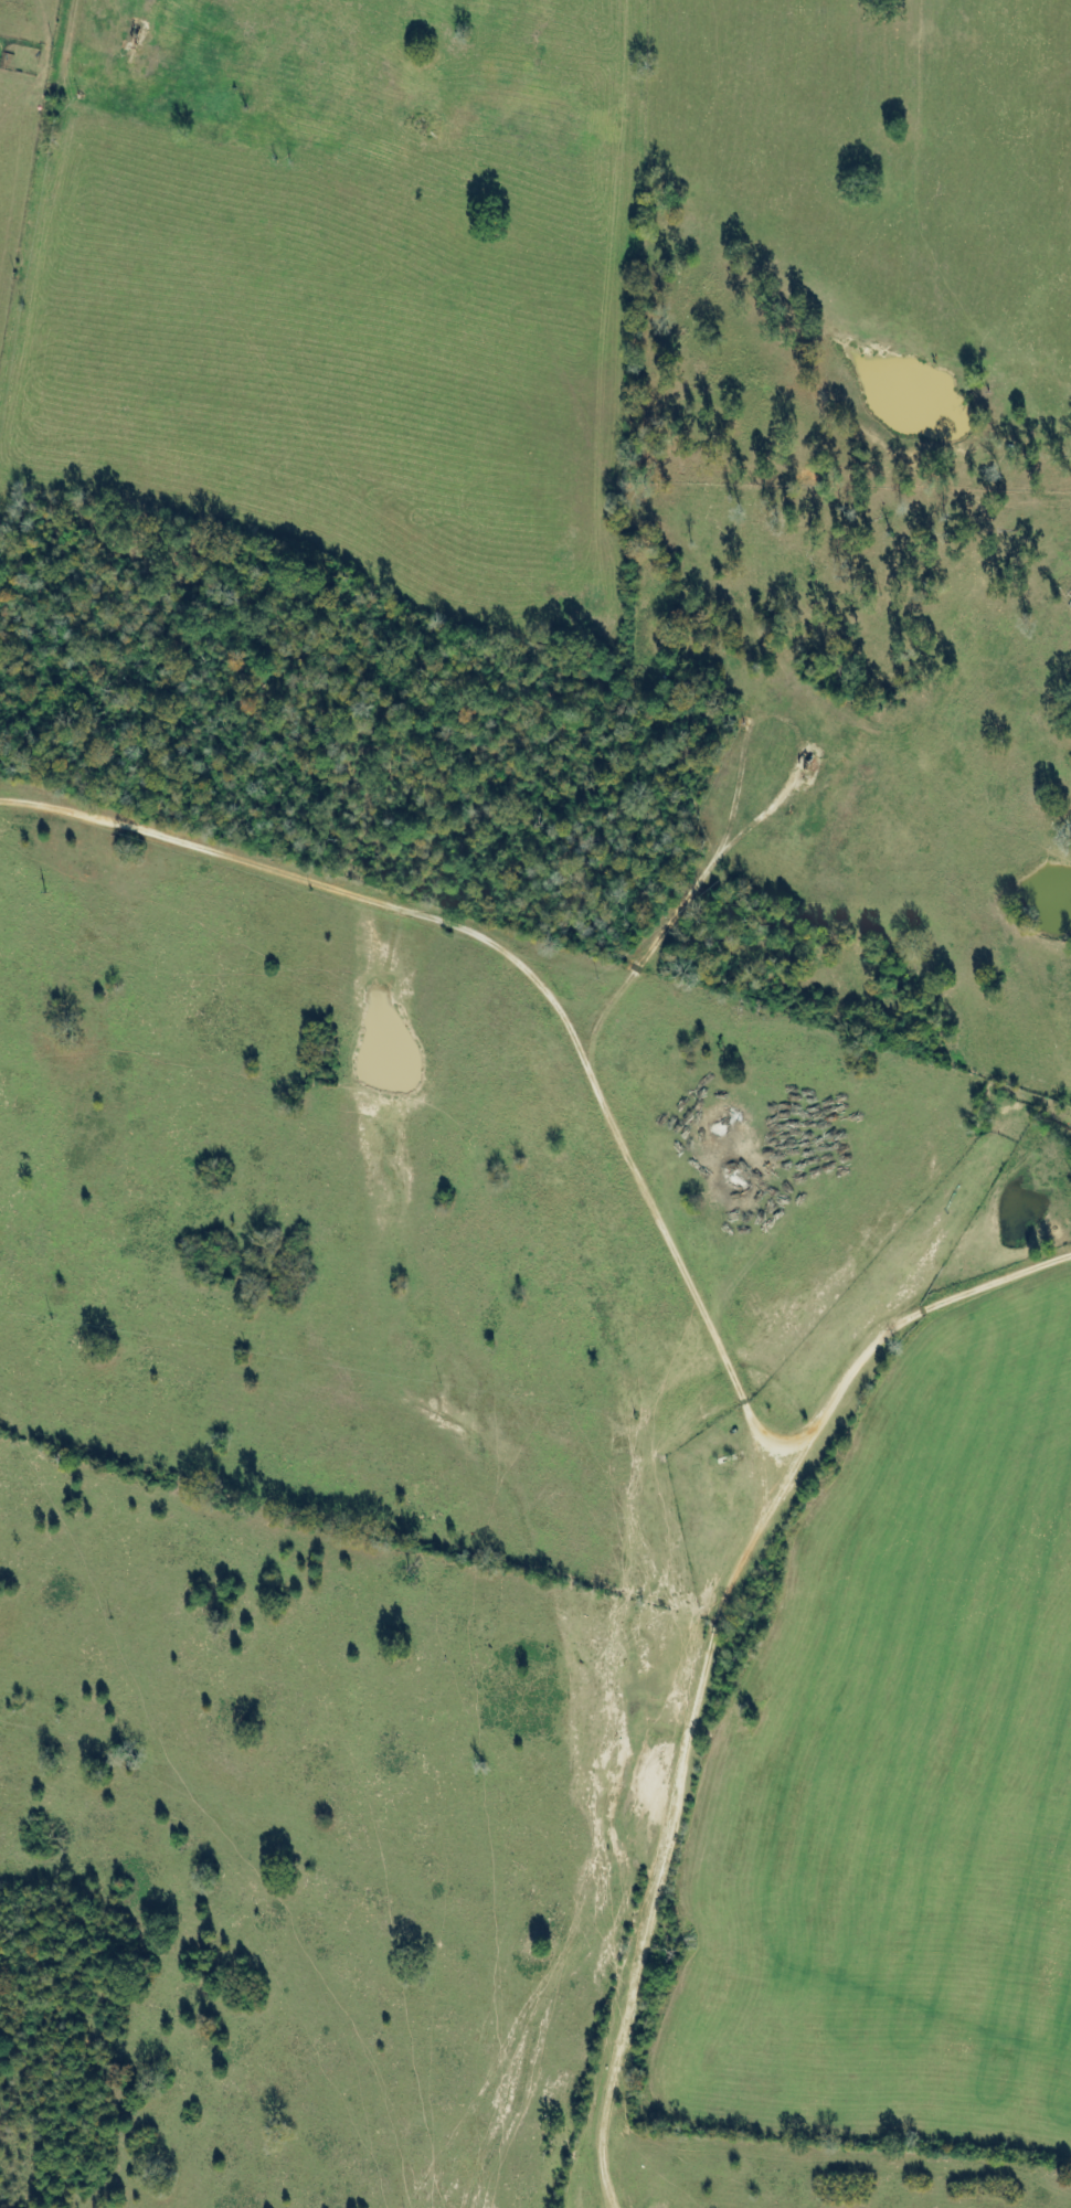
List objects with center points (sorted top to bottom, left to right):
road: (36, 243)
road: (718, 1301)

